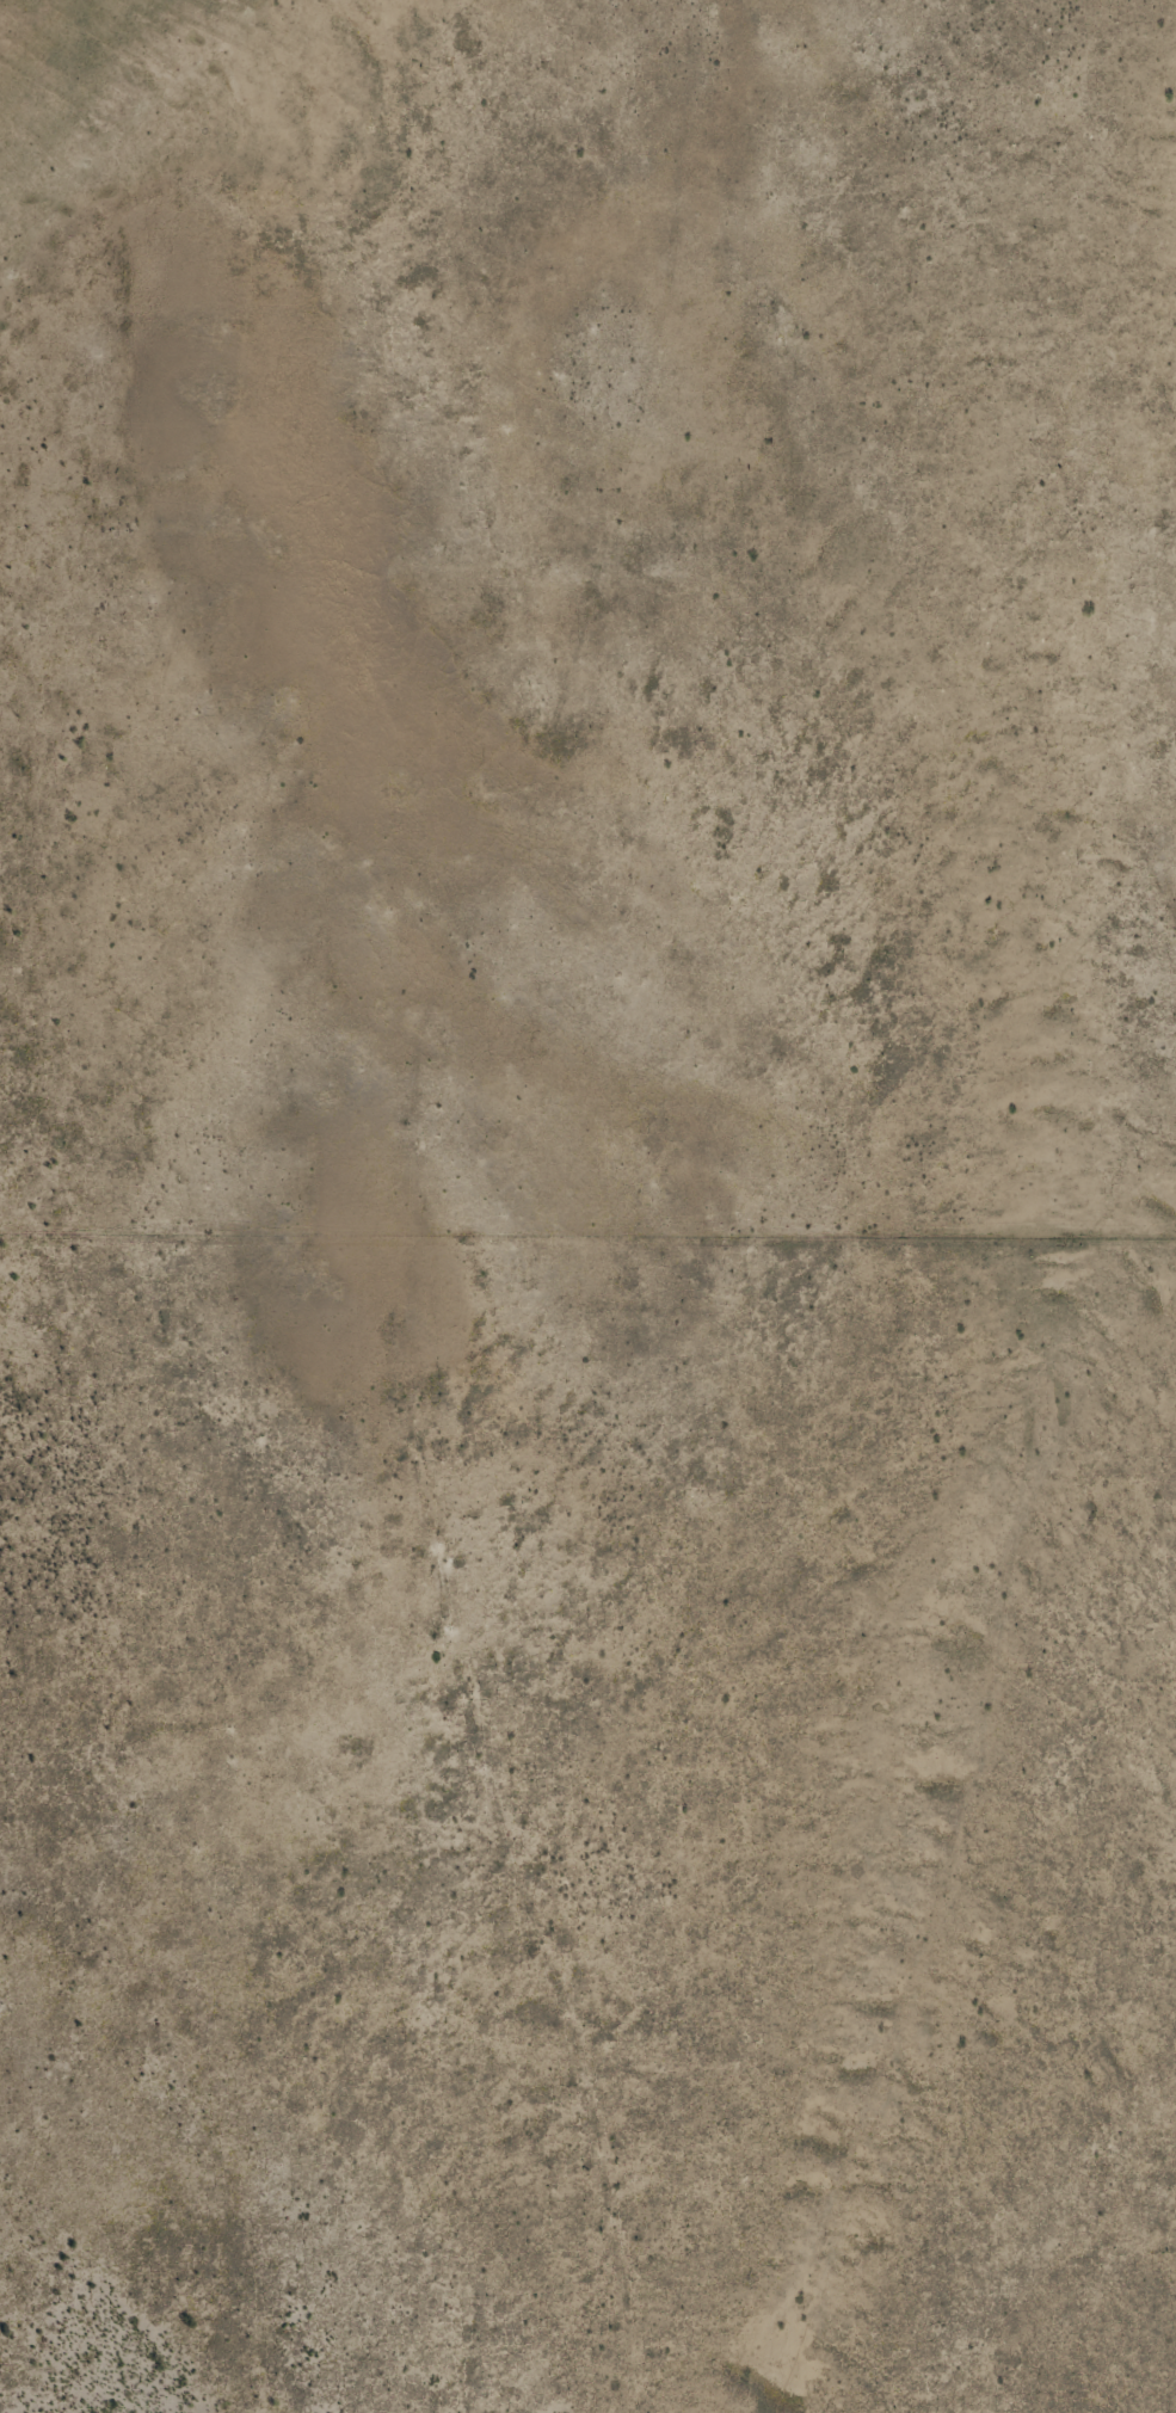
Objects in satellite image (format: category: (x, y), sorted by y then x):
road: (171, 211)
road: (448, 1196)

